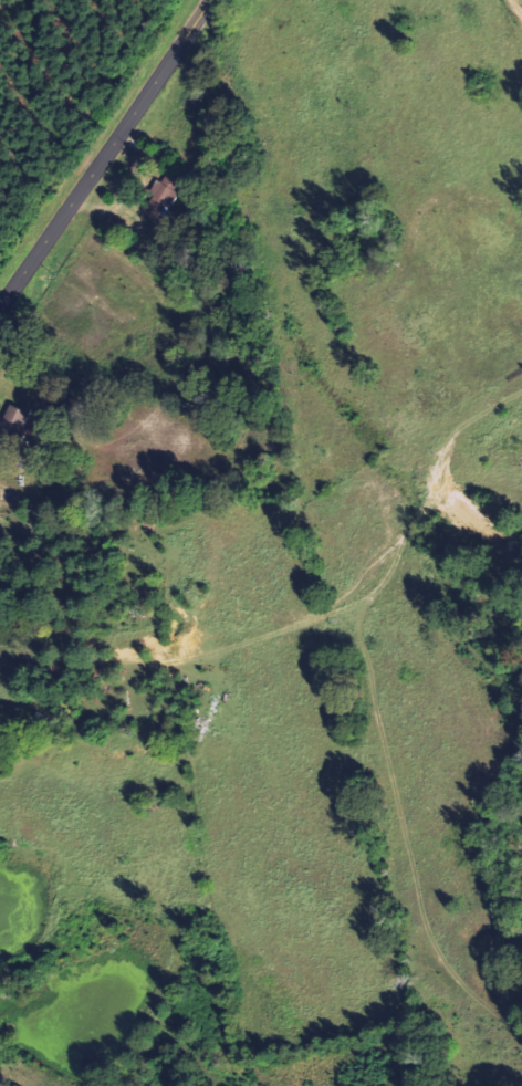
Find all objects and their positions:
road: (516, 8)
road: (105, 154)
building: (168, 195)

